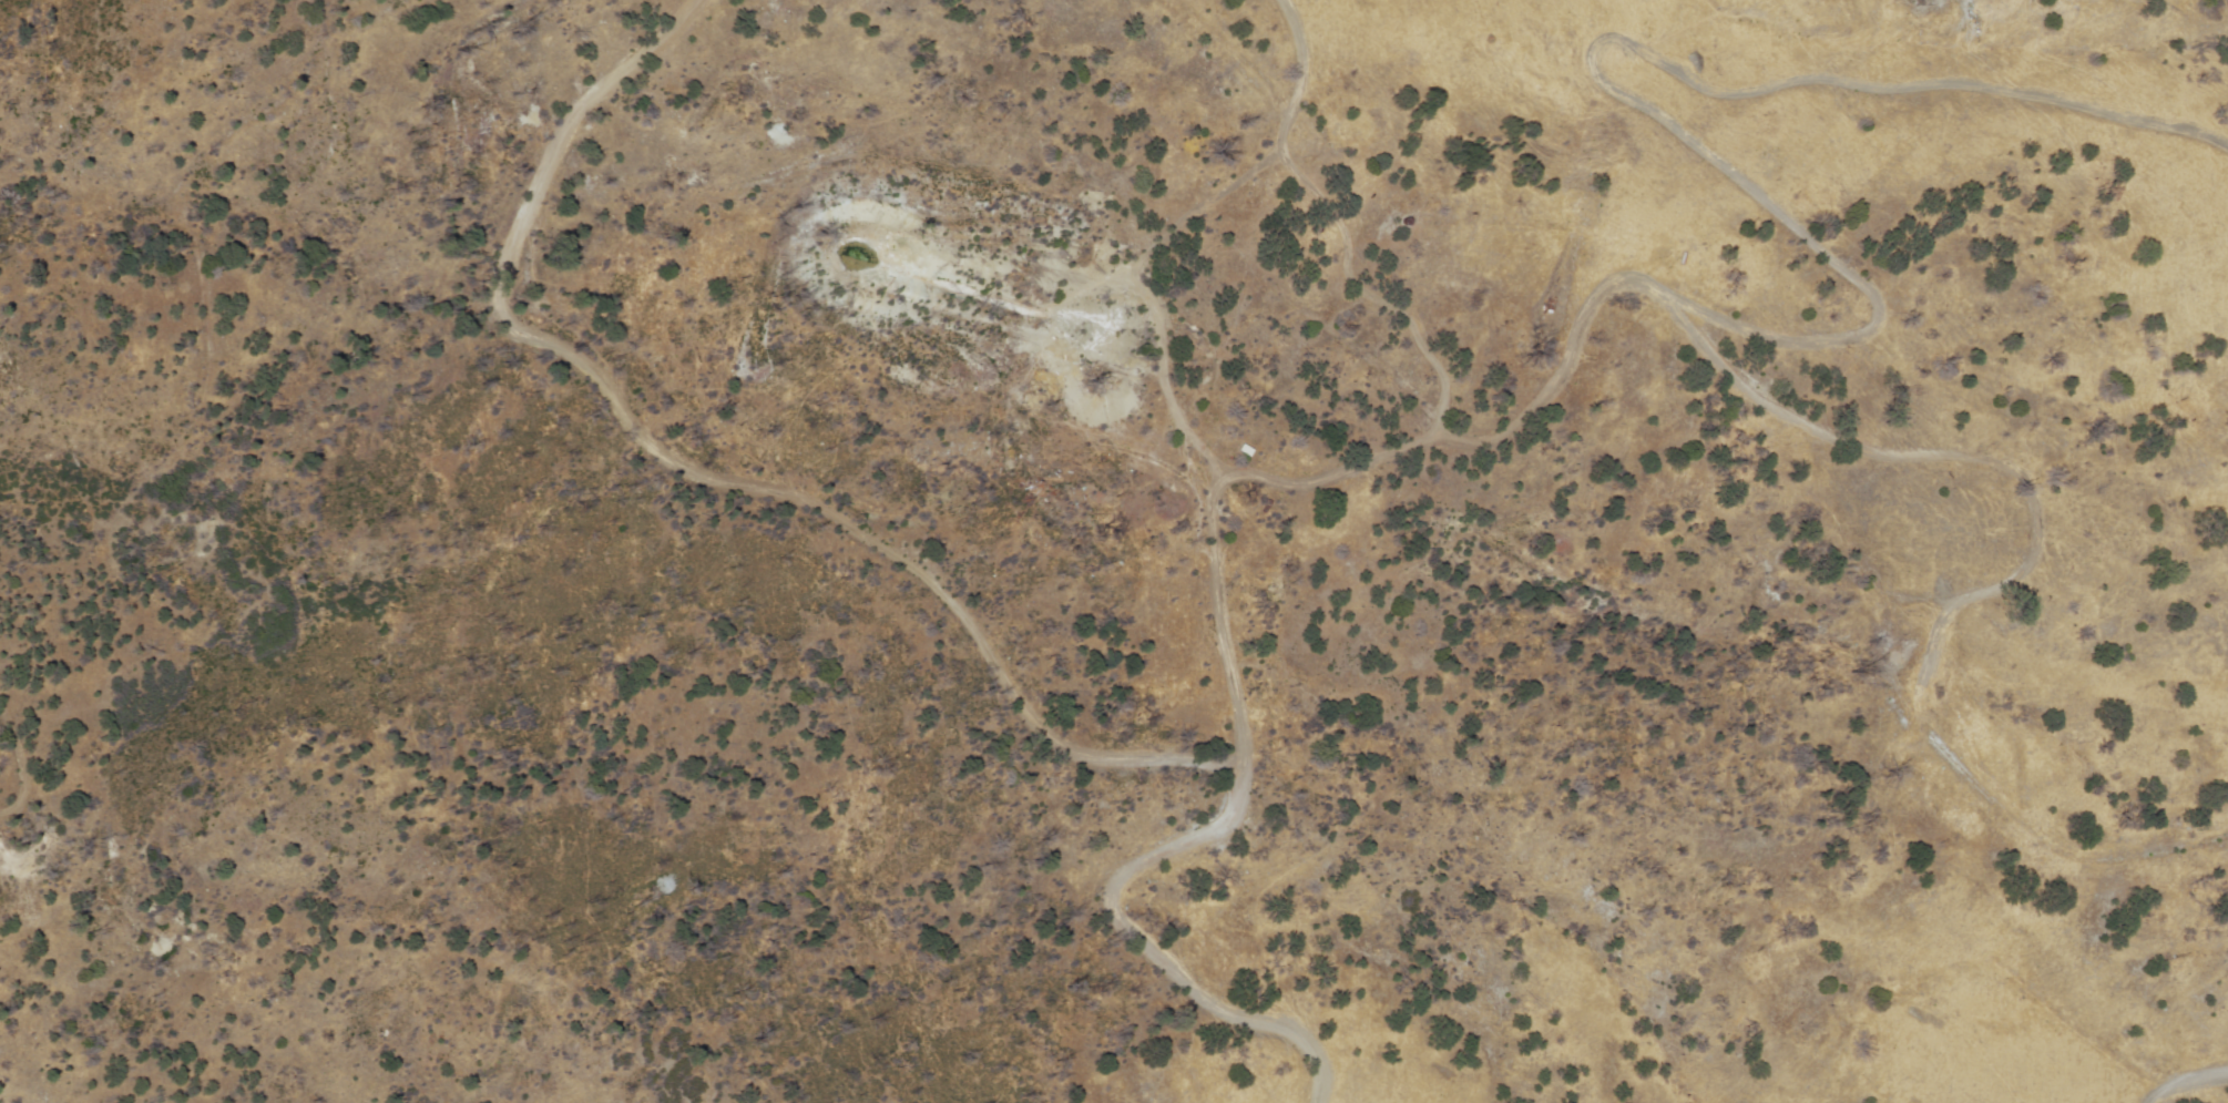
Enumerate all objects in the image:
quarry: (953, 195)
road: (1200, 237)
road: (1264, 487)

